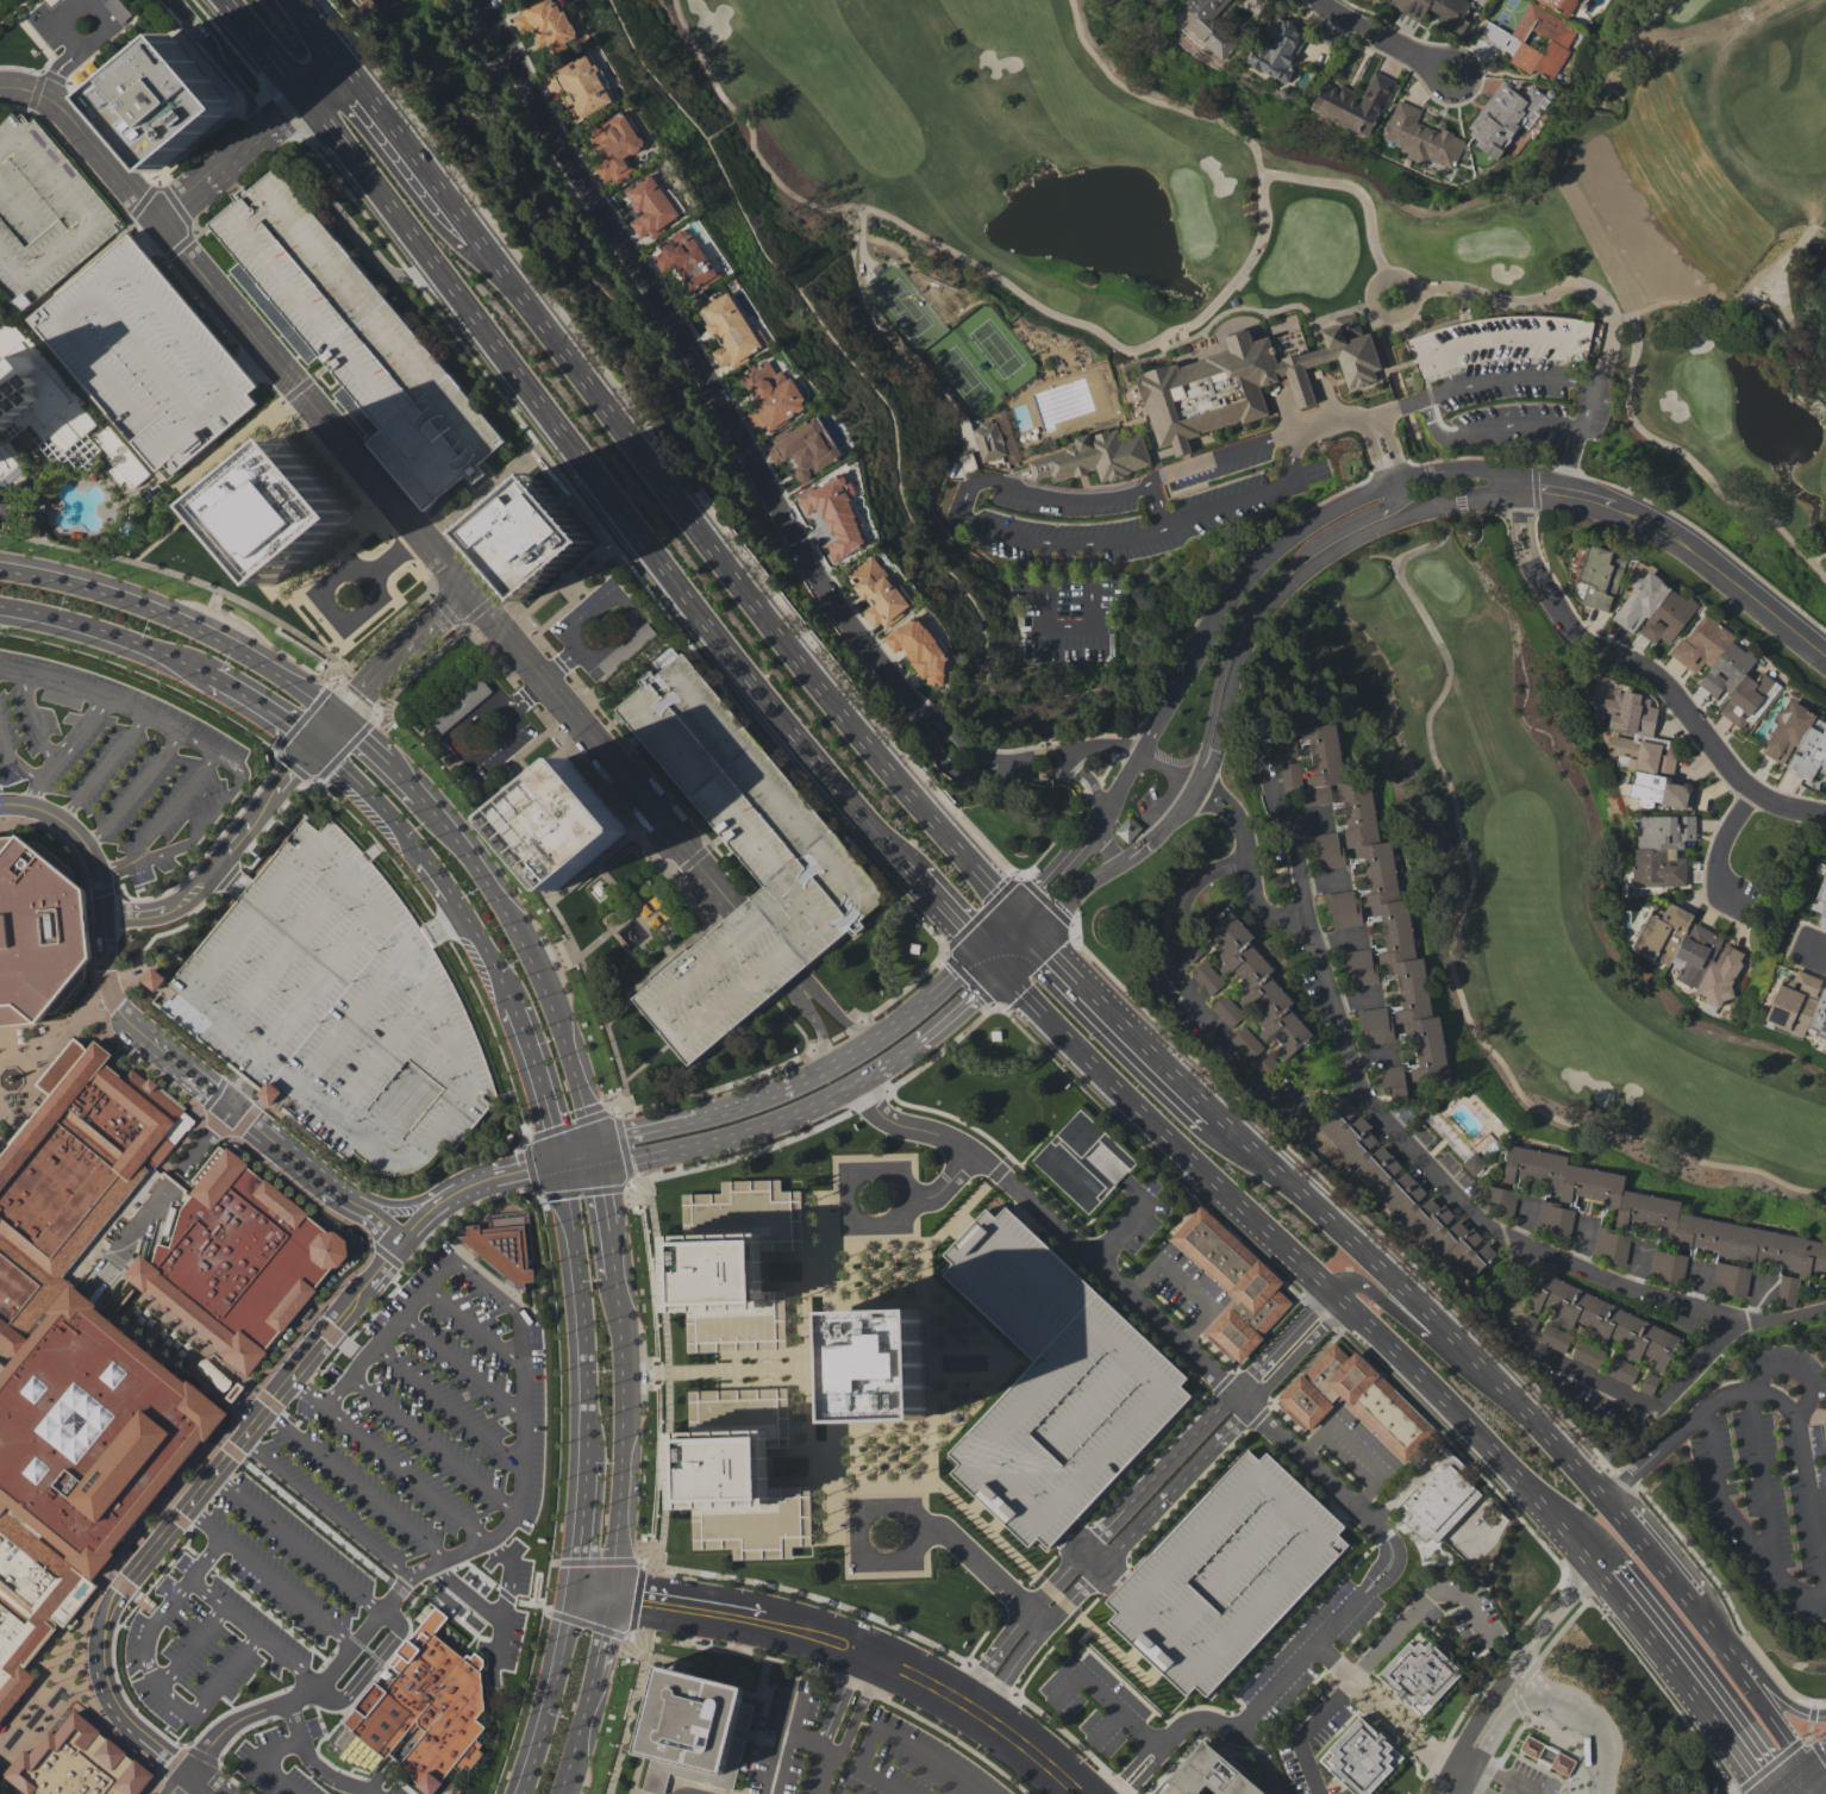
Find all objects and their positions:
building: (1563, 6)
building: (117, 8)
building: (1437, 11)
road: (55, 23)
building: (544, 23)
building: (1207, 25)
road: (107, 27)
road: (320, 33)
road: (1372, 39)
building: (1534, 40)
building: (1278, 49)
road: (77, 51)
road: (63, 56)
road: (75, 56)
road: (1433, 67)
road: (64, 70)
road: (51, 71)
building: (581, 86)
road: (48, 90)
road: (1157, 101)
building: (1353, 102)
building: (171, 104)
building: (1502, 118)
building: (1420, 137)
building: (613, 146)
road: (254, 148)
road: (411, 151)
building: (649, 206)
building: (42, 211)
building: (684, 260)
road: (1384, 313)
building: (731, 331)
road: (1175, 332)
building: (350, 336)
road: (1505, 336)
building: (1459, 345)
building: (144, 355)
parking garage: (144, 355)
road: (1505, 379)
building: (1245, 380)
building: (771, 395)
building: (49, 413)
road: (1336, 421)
road: (1486, 423)
park: (1337, 432)
road: (733, 436)
road: (565, 440)
building: (805, 446)
road: (1384, 446)
building: (1094, 456)
road: (1569, 458)
building: (968, 462)
road: (1543, 486)
road: (373, 488)
road: (1587, 494)
road: (1155, 505)
building: (275, 508)
building: (836, 514)
road: (1365, 517)
building: (530, 539)
road: (1065, 540)
road: (1040, 544)
road: (1331, 555)
road: (380, 567)
road: (1250, 570)
road: (1725, 571)
road: (737, 579)
building: (877, 593)
building: (1655, 610)
road: (1245, 618)
road: (181, 623)
road: (631, 624)
road: (104, 631)
building: (919, 650)
building: (665, 657)
road: (1645, 668)
road: (389, 669)
road: (1446, 670)
building: (1725, 670)
road: (112, 695)
road: (529, 695)
building: (461, 705)
road: (262, 706)
road: (375, 710)
road: (30, 718)
traffic signals: (345, 718)
building: (1637, 733)
road: (365, 738)
building: (1797, 740)
road: (63, 746)
road: (1105, 746)
building: (1288, 746)
traffic signals: (318, 748)
road: (458, 751)
parking lot: (113, 762)
road: (12, 763)
road: (105, 765)
road: (405, 780)
road: (1090, 781)
road: (133, 788)
road: (60, 789)
building: (1661, 790)
road: (1183, 804)
road: (167, 812)
road: (277, 815)
building: (559, 823)
road: (1311, 823)
road: (202, 826)
building: (1127, 829)
road: (1244, 830)
road: (1084, 838)
road: (1103, 848)
road: (212, 849)
building: (1326, 850)
road: (1720, 851)
road: (224, 855)
building: (740, 861)
parking garage: (740, 861)
road: (430, 863)
road: (105, 871)
road: (231, 875)
road: (227, 877)
road: (1046, 877)
road: (1321, 880)
building: (1375, 888)
road: (105, 889)
road: (1074, 895)
road: (90, 896)
building: (1821, 902)
building: (1343, 908)
building: (655, 911)
road: (948, 911)
traffic signals: (1014, 911)
road: (1024, 921)
road: (996, 929)
building: (37, 930)
road: (165, 931)
traffic signals: (1034, 933)
road: (1336, 938)
road: (763, 942)
traffic signals: (978, 948)
road: (284, 949)
road: (1814, 949)
road: (1018, 951)
building: (1690, 952)
road: (989, 958)
road: (531, 962)
building: (1358, 967)
traffic signals: (1001, 970)
building: (1207, 977)
road: (319, 982)
road: (114, 984)
road: (1187, 984)
building: (1258, 984)
road: (799, 986)
road: (371, 990)
road: (1353, 999)
building: (334, 1005)
parking garage: (334, 1005)
building: (1800, 1007)
building: (1226, 1009)
road: (202, 1012)
road: (434, 1012)
road: (839, 1018)
road: (895, 1025)
road: (1123, 1025)
building: (1375, 1025)
road: (818, 1030)
road: (934, 1032)
road: (57, 1040)
building: (1246, 1043)
road: (380, 1056)
road: (1371, 1056)
road: (2, 1057)
building: (1267, 1065)
road: (538, 1080)
building: (1390, 1080)
road: (212, 1092)
road: (236, 1092)
road: (1539, 1109)
road: (694, 1117)
road: (617, 1118)
road: (731, 1137)
traffic signals: (593, 1150)
road: (1415, 1150)
road: (575, 1155)
building: (1076, 1158)
traffic signals: (558, 1159)
building: (1474, 1163)
road: (171, 1179)
road: (599, 1187)
road: (928, 1188)
building: (1403, 1192)
building: (1502, 1201)
road: (459, 1212)
building: (1664, 1214)
building: (1556, 1220)
road: (1057, 1229)
building: (1611, 1245)
building: (499, 1248)
road: (609, 1250)
road: (384, 1256)
building: (234, 1259)
road: (1301, 1264)
building: (737, 1267)
building: (1669, 1268)
building: (1732, 1282)
road: (1183, 1284)
building: (1230, 1284)
road: (487, 1287)
building: (1789, 1293)
road: (580, 1299)
road: (1418, 1300)
road: (376, 1306)
building: (1606, 1323)
road: (475, 1325)
building: (1527, 1326)
road: (1420, 1327)
road: (327, 1330)
road: (387, 1330)
building: (1556, 1338)
road: (1288, 1350)
building: (1590, 1355)
building: (79, 1359)
road: (330, 1359)
building: (877, 1363)
road: (462, 1365)
building: (1622, 1373)
road: (1595, 1380)
building: (1052, 1382)
parking garage: (1052, 1382)
building: (1650, 1383)
building: (231, 1390)
road: (306, 1390)
road: (268, 1400)
road: (1780, 1402)
building: (1352, 1404)
road: (448, 1405)
road: (1803, 1415)
parking lot: (425, 1429)
road: (1342, 1429)
road: (619, 1436)
road: (432, 1444)
road: (231, 1451)
road: (1713, 1471)
road: (404, 1473)
building: (745, 1477)
road: (1762, 1480)
road: (355, 1483)
road: (521, 1500)
road: (188, 1504)
building: (1434, 1506)
road: (1140, 1507)
road: (324, 1508)
road: (176, 1515)
road: (583, 1515)
road: (315, 1521)
road: (227, 1543)
road: (296, 1543)
road: (1650, 1549)
road: (969, 1554)
road: (204, 1558)
building: (1224, 1571)
parking garage: (1224, 1571)
road: (539, 1573)
road: (548, 1583)
road: (399, 1589)
traffic signals: (576, 1590)
road: (505, 1593)
road: (592, 1593)
traffic signals: (608, 1595)
road: (638, 1595)
road: (1359, 1595)
road: (1421, 1606)
road: (309, 1612)
road: (736, 1612)
road: (1038, 1614)
road: (499, 1620)
road: (151, 1629)
road: (254, 1631)
road: (601, 1631)
parking lot: (276, 1643)
road: (80, 1645)
road: (190, 1646)
road: (1531, 1648)
road: (348, 1650)
building: (1418, 1675)
road: (1686, 1677)
road: (1534, 1679)
road: (1778, 1680)
road: (1751, 1683)
road: (1770, 1683)
road: (311, 1690)
road: (554, 1693)
road: (210, 1694)
road: (125, 1695)
road: (1103, 1696)
road: (836, 1702)
building: (421, 1704)
road: (1568, 1706)
road: (857, 1709)
road: (976, 1709)
road: (1325, 1713)
road: (787, 1717)
building: (696, 1719)
road: (1811, 1720)
road: (293, 1723)
road: (107, 1725)
road: (1142, 1729)
road: (579, 1731)
road: (1406, 1731)
road: (888, 1736)
road: (781, 1742)
road: (201, 1752)
building: (1545, 1752)
road: (1782, 1754)
building: (1353, 1759)
road: (1468, 1759)
road: (171, 1761)
road: (1261, 1761)
road: (262, 1762)
building: (74, 1763)
road: (1131, 1765)
road: (1818, 1767)
road: (1149, 1771)
road: (1494, 1773)
road: (819, 1774)
traffic signals: (1811, 1774)
road: (332, 1776)
building: (1203, 1777)
road: (231, 1780)
parking lot: (1527, 1780)
road: (180, 1782)
road: (1797, 1783)
road: (1818, 1783)
road: (152, 1786)
road: (1453, 1786)
road: (1471, 1786)
road: (6, 1788)
building: (2, 1792)

